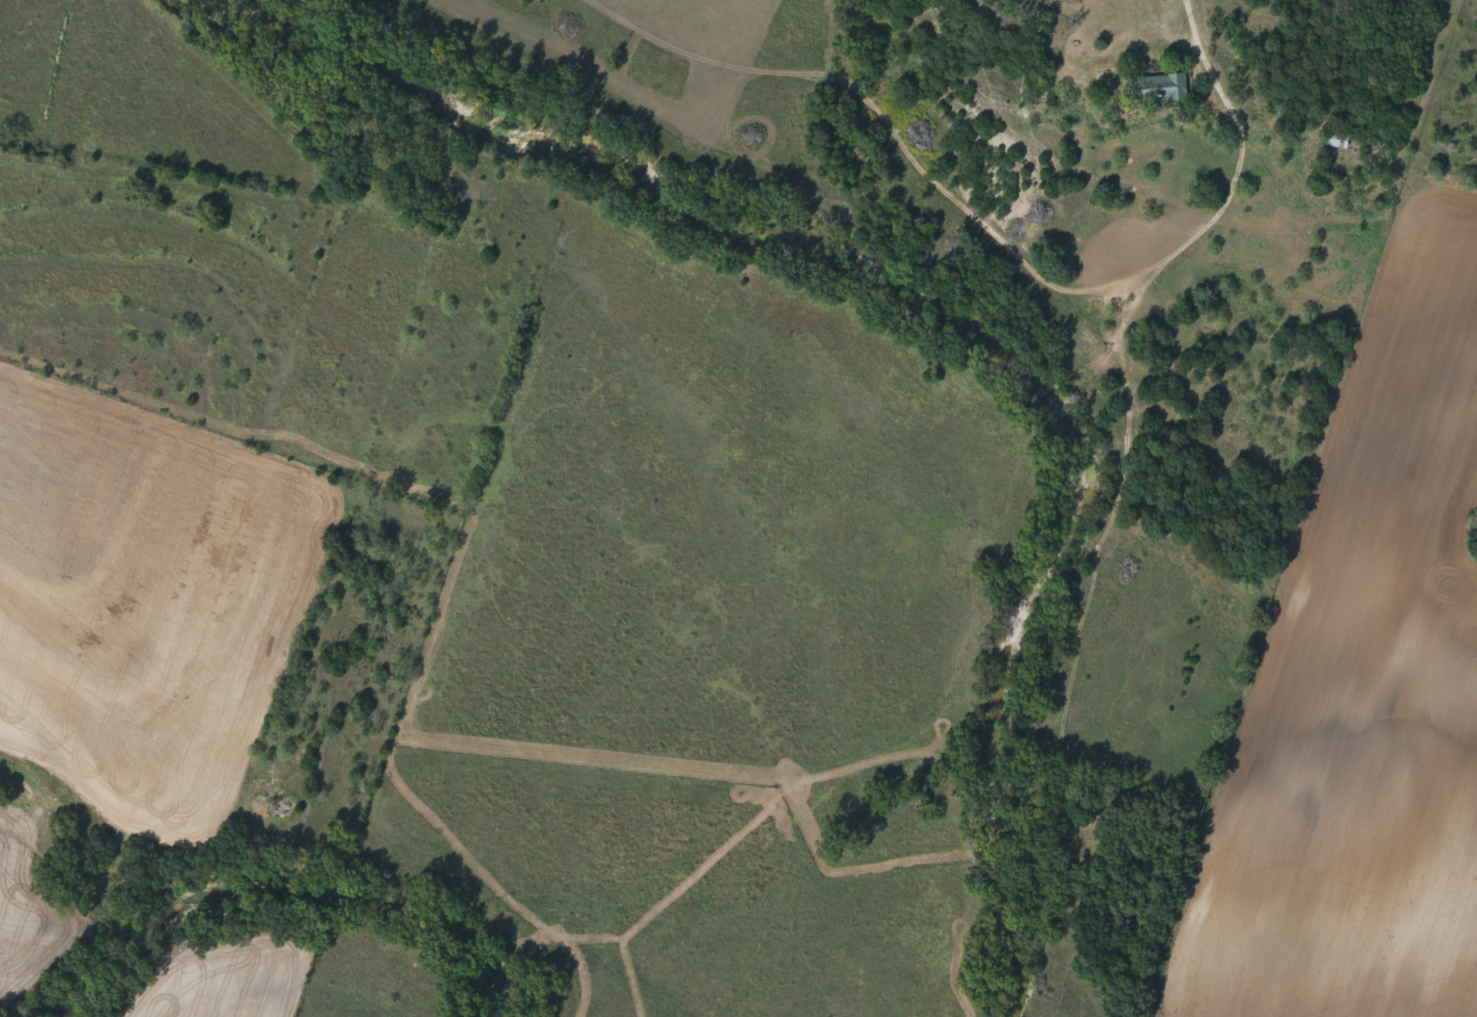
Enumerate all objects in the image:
building: (1163, 85)
road: (1211, 92)
building: (1337, 136)

